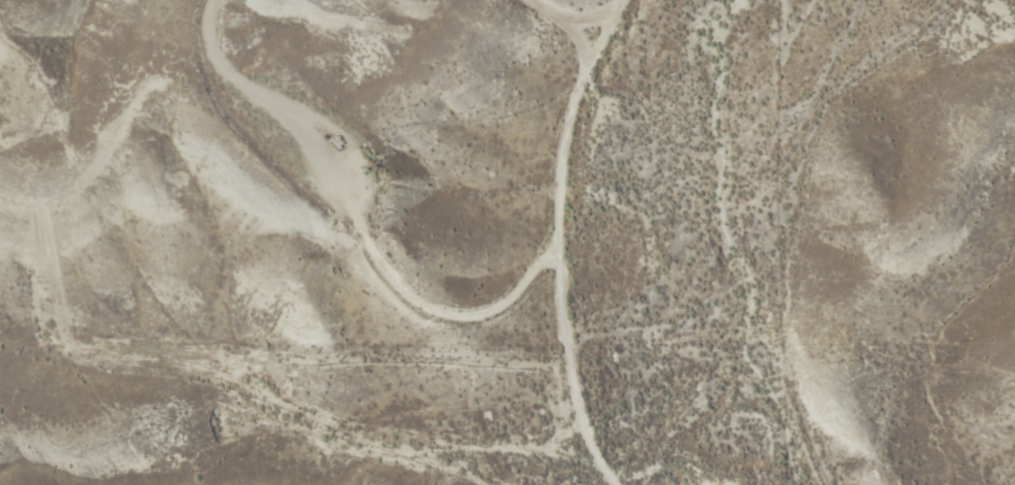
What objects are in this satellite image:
road: (562, 231)

